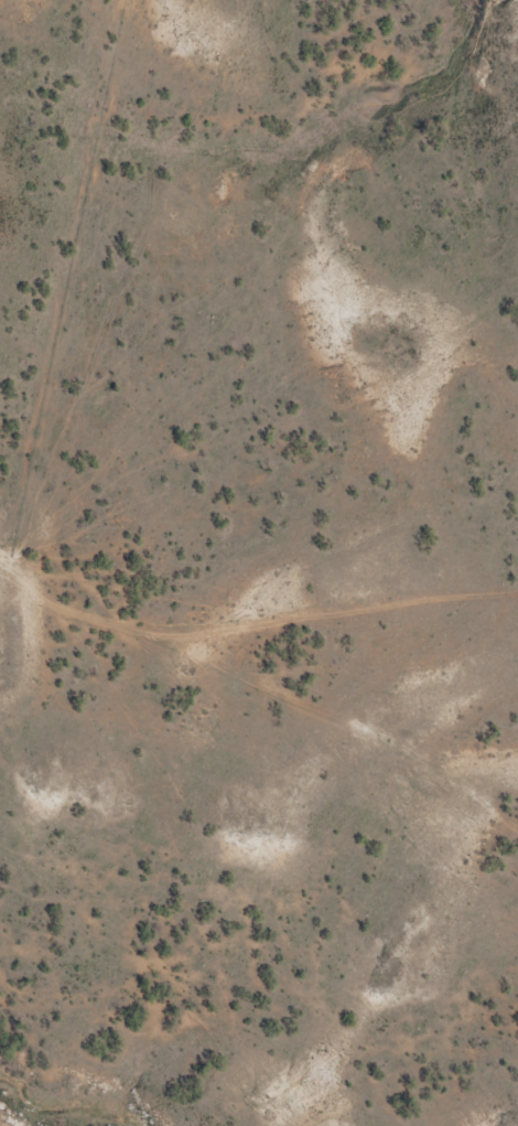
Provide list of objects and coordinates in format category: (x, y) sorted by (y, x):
road: (76, 530)

